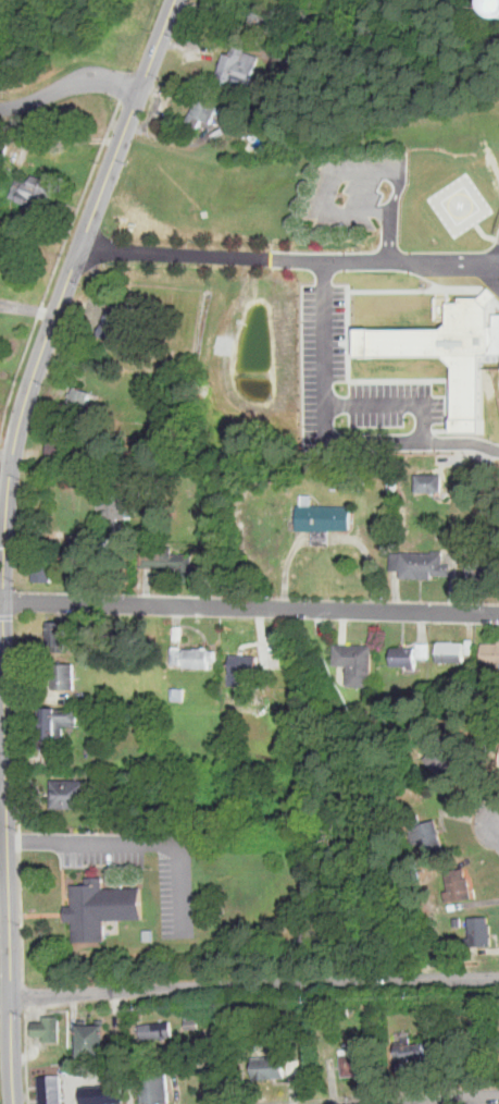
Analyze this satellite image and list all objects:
building: (494, 10)
building: (285, 26)
building: (238, 66)
road: (68, 81)
building: (204, 110)
road: (367, 174)
building: (33, 193)
road: (475, 213)
road: (390, 236)
road: (279, 259)
road: (489, 263)
road: (62, 294)
road: (27, 305)
building: (117, 318)
building: (497, 339)
road: (398, 398)
building: (79, 400)
road: (329, 431)
building: (59, 449)
road: (5, 458)
building: (429, 483)
building: (115, 494)
building: (323, 516)
building: (322, 539)
building: (169, 561)
building: (420, 564)
building: (482, 564)
building: (43, 572)
road: (249, 608)
building: (57, 636)
building: (423, 650)
building: (452, 652)
building: (491, 654)
building: (404, 657)
building: (195, 658)
building: (358, 664)
building: (242, 668)
building: (63, 676)
building: (55, 726)
building: (444, 753)
building: (498, 762)
building: (70, 795)
building: (429, 835)
road: (139, 838)
building: (458, 888)
road: (7, 891)
building: (102, 909)
building: (479, 932)
road: (253, 985)
building: (347, 1008)
building: (194, 1014)
building: (194, 1022)
building: (45, 1028)
building: (158, 1029)
building: (88, 1040)
building: (417, 1050)
building: (359, 1060)
building: (295, 1066)
building: (271, 1067)
building: (51, 1083)
building: (155, 1089)
building: (102, 1094)
building: (52, 1097)
road: (442, 1099)

